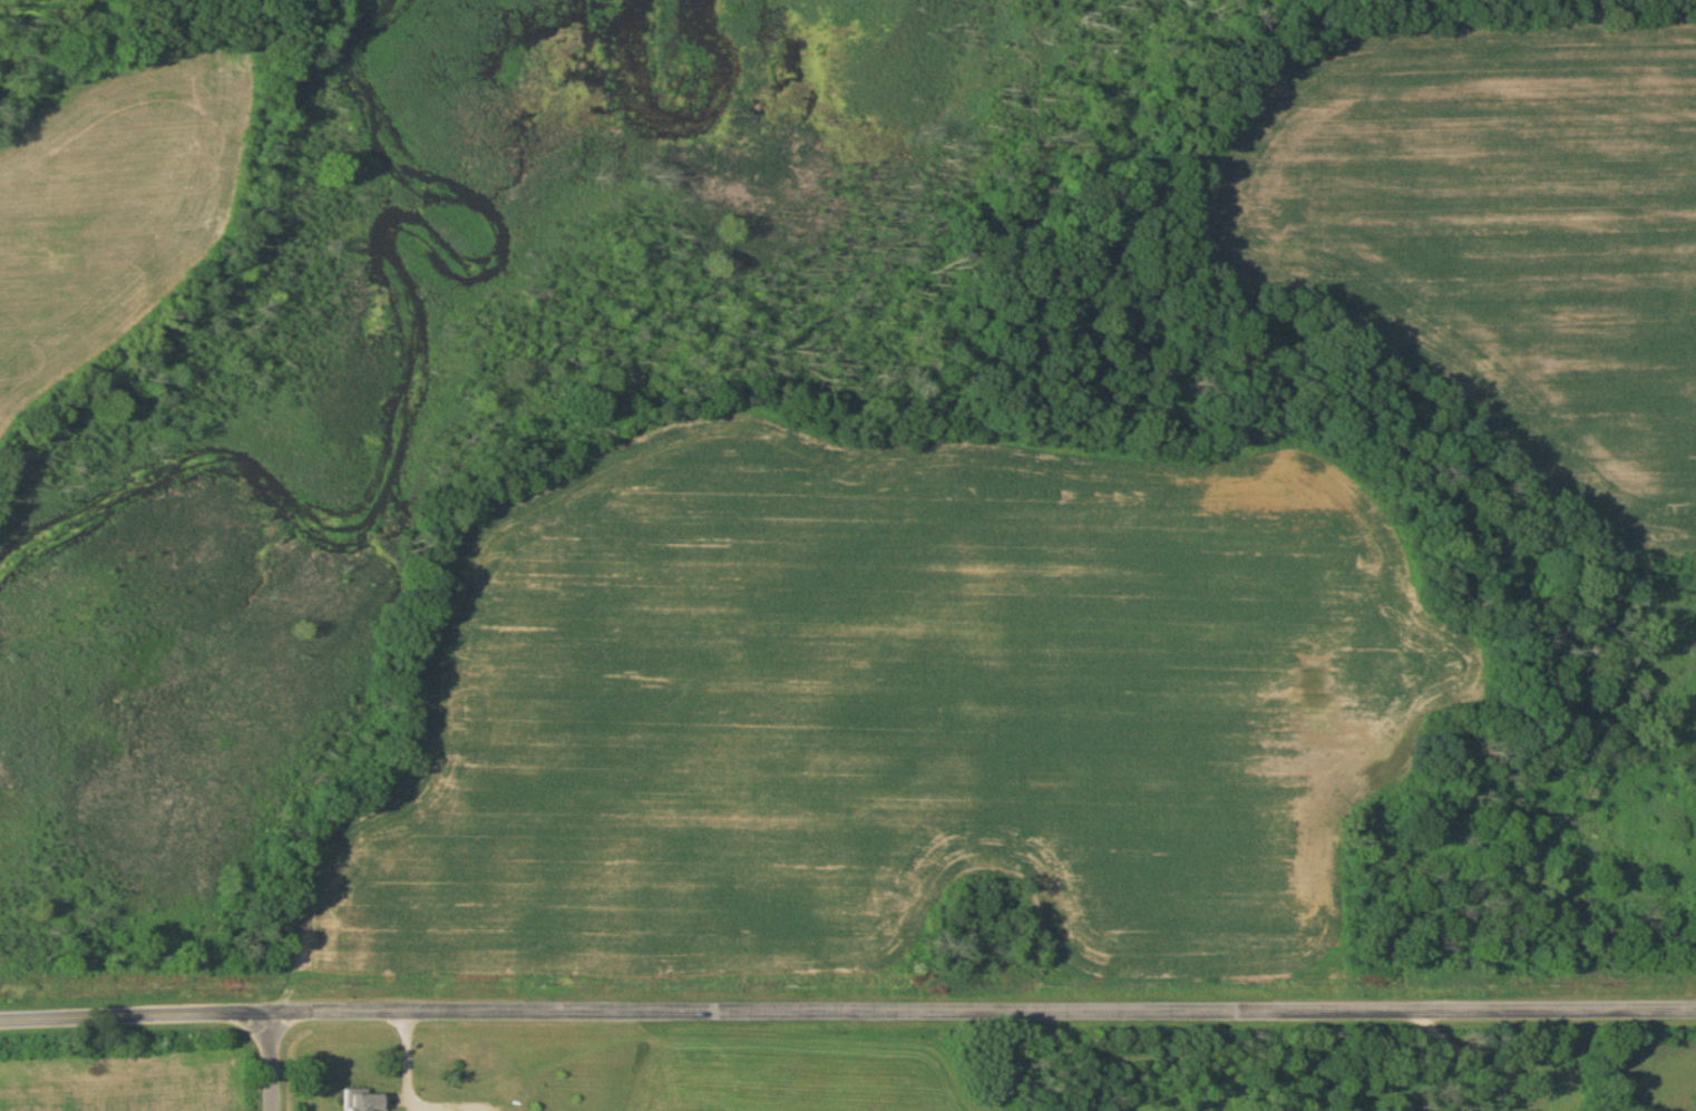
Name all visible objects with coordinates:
river: (425, 340)
road: (847, 1012)
road: (1468, 1058)
road: (273, 1061)
road: (410, 1079)
building: (362, 1100)

